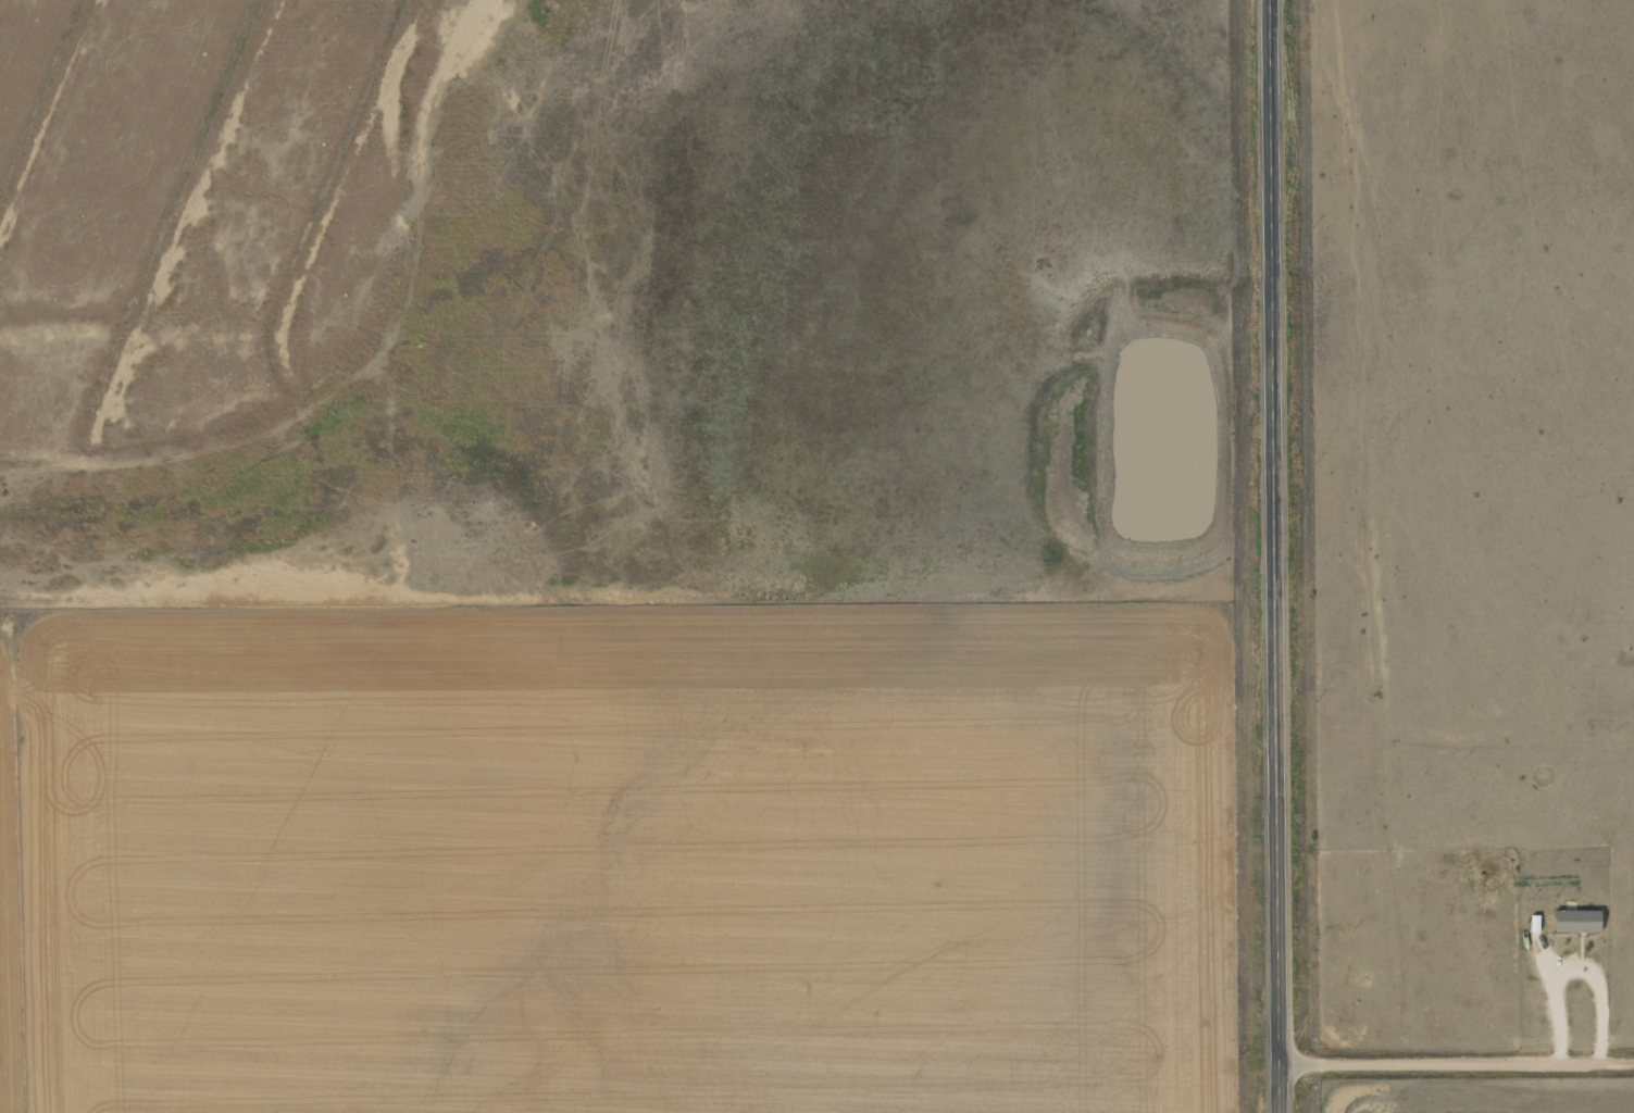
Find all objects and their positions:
road: (1272, 555)
building: (1576, 920)
road: (1455, 1061)

